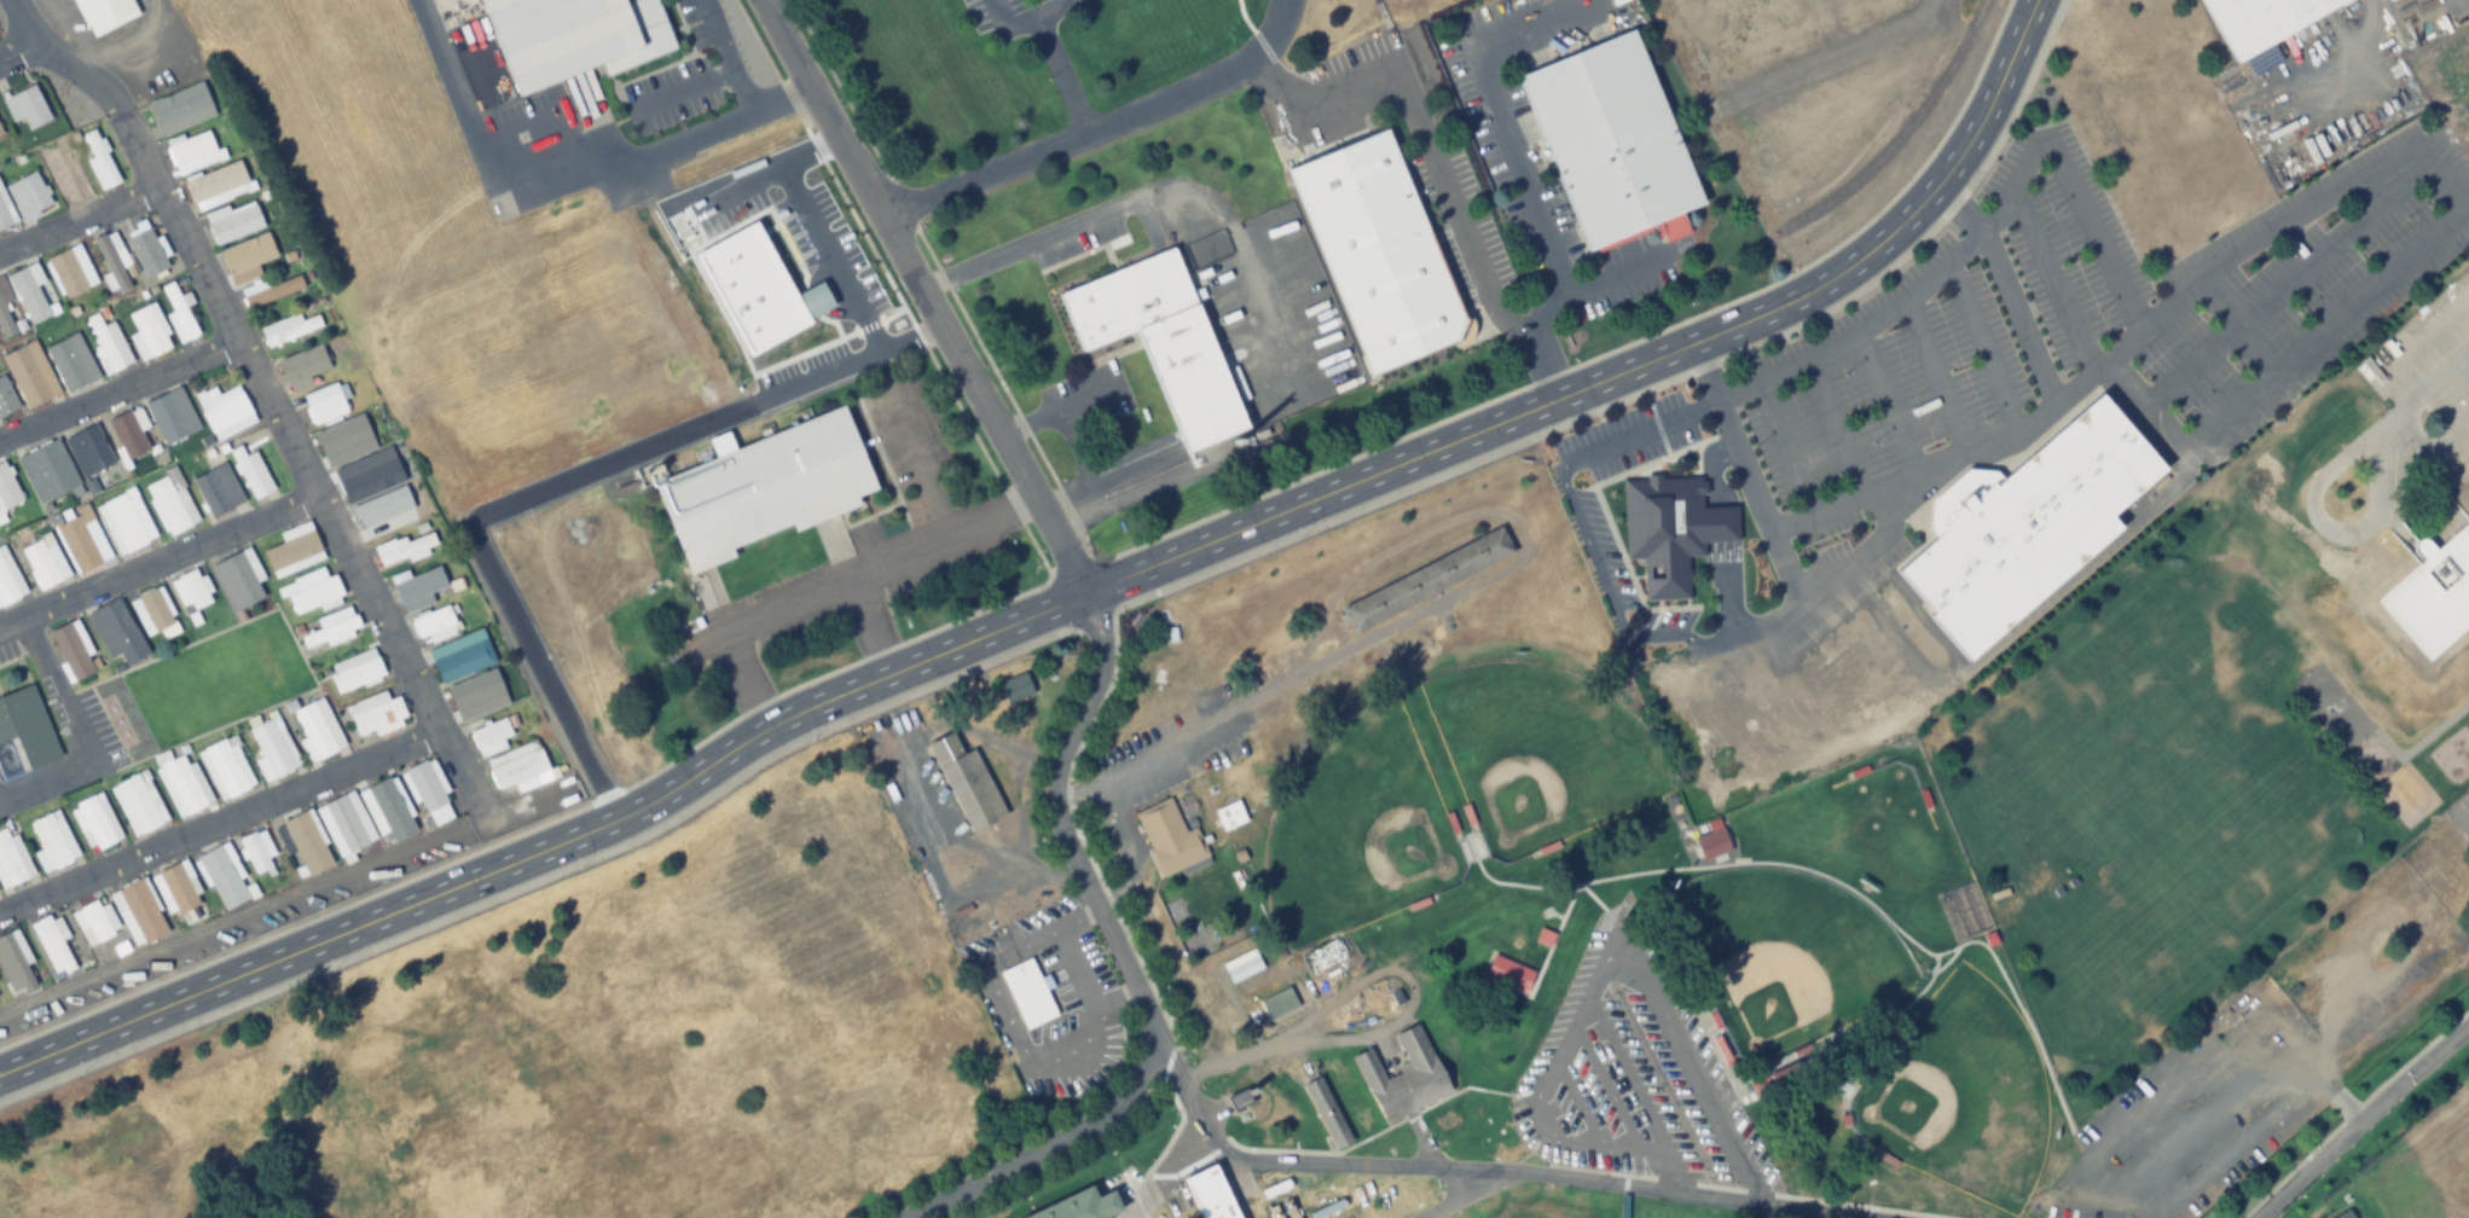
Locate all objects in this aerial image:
building: (2386, 0)
building: (2404, 0)
building: (104, 13)
road: (1020, 14)
building: (2260, 19)
building: (570, 35)
road: (17, 50)
road: (1826, 59)
road: (1060, 71)
road: (725, 75)
road: (740, 88)
building: (27, 108)
building: (181, 109)
road: (1503, 120)
road: (1099, 127)
road: (1419, 130)
railway: (1907, 130)
road: (671, 133)
building: (0, 135)
building: (1611, 140)
building: (193, 152)
building: (100, 161)
building: (71, 172)
road: (752, 178)
building: (218, 186)
building: (30, 196)
building: (5, 211)
road: (82, 220)
building: (233, 222)
building: (145, 249)
building: (1380, 253)
road: (829, 254)
building: (114, 259)
building: (254, 259)
road: (1941, 261)
building: (71, 272)
road: (2282, 283)
road: (2005, 289)
building: (272, 291)
building: (29, 295)
road: (922, 296)
road: (2358, 300)
road: (1554, 303)
building: (7, 312)
building: (180, 313)
building: (290, 330)
building: (149, 332)
building: (106, 341)
building: (1160, 341)
road: (1981, 343)
road: (244, 347)
building: (71, 361)
road: (1622, 366)
building: (302, 369)
road: (1934, 372)
building: (30, 373)
road: (2430, 383)
road: (120, 387)
road: (1653, 387)
building: (6, 399)
building: (326, 405)
building: (225, 411)
building: (176, 419)
road: (1836, 424)
building: (128, 434)
building: (342, 437)
road: (1786, 446)
building: (88, 449)
road: (2427, 458)
road: (2448, 465)
building: (47, 471)
building: (251, 474)
building: (359, 481)
building: (765, 487)
building: (216, 489)
building: (7, 493)
road: (522, 497)
building: (170, 503)
building: (383, 514)
building: (126, 522)
building: (2024, 526)
building: (1670, 529)
road: (2328, 532)
road: (1717, 533)
building: (83, 540)
building: (404, 550)
building: (294, 551)
road: (157, 559)
building: (44, 562)
building: (8, 580)
building: (1425, 580)
building: (237, 581)
road: (1814, 585)
building: (419, 590)
building: (192, 591)
building: (312, 592)
road: (1108, 605)
building: (152, 610)
building: (435, 626)
building: (331, 631)
building: (116, 633)
building: (73, 650)
building: (462, 657)
road: (1106, 657)
building: (355, 672)
building: (469, 695)
building: (376, 715)
building: (27, 726)
building: (317, 731)
building: (272, 750)
park: (1537, 753)
building: (510, 758)
building: (226, 770)
building: (966, 781)
building: (181, 785)
building: (429, 793)
building: (138, 805)
building: (1228, 814)
building: (366, 818)
road: (219, 822)
building: (95, 823)
park: (1354, 829)
building: (1166, 837)
building: (1711, 840)
building: (52, 841)
building: (302, 846)
road: (549, 848)
building: (259, 854)
building: (12, 858)
road: (544, 875)
building: (224, 877)
building: (174, 891)
building: (138, 913)
building: (92, 923)
road: (1115, 935)
building: (53, 944)
park: (1785, 955)
building: (15, 958)
road: (1590, 982)
building: (1026, 993)
building: (0, 999)
building: (1276, 1003)
park: (564, 1036)
building: (1402, 1075)
road: (1627, 1077)
building: (1781, 1078)
road: (1602, 1089)
park: (1958, 1094)
building: (1236, 1100)
road: (1571, 1103)
road: (2349, 1109)
building: (1325, 1112)
road: (2360, 1123)
road: (1048, 1144)
road: (1600, 1170)
road: (1479, 1173)
road: (1623, 1179)
road: (1677, 1179)
road: (1719, 1185)
road: (1755, 1190)
building: (1207, 1195)
road: (1447, 1196)
road: (1622, 1202)
building: (1079, 1206)
road: (1874, 1206)
building: (2343, 1214)

